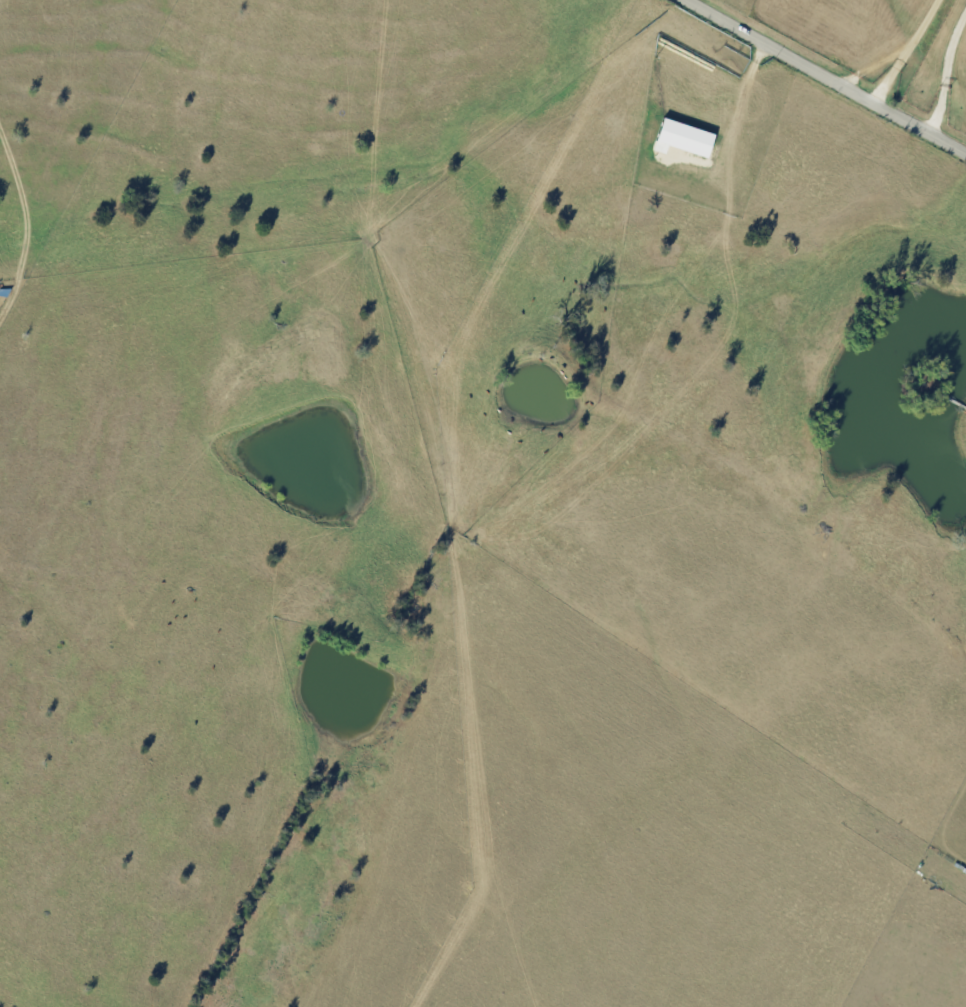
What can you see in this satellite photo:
road: (911, 57)
road: (818, 81)
road: (946, 83)
building: (688, 137)

